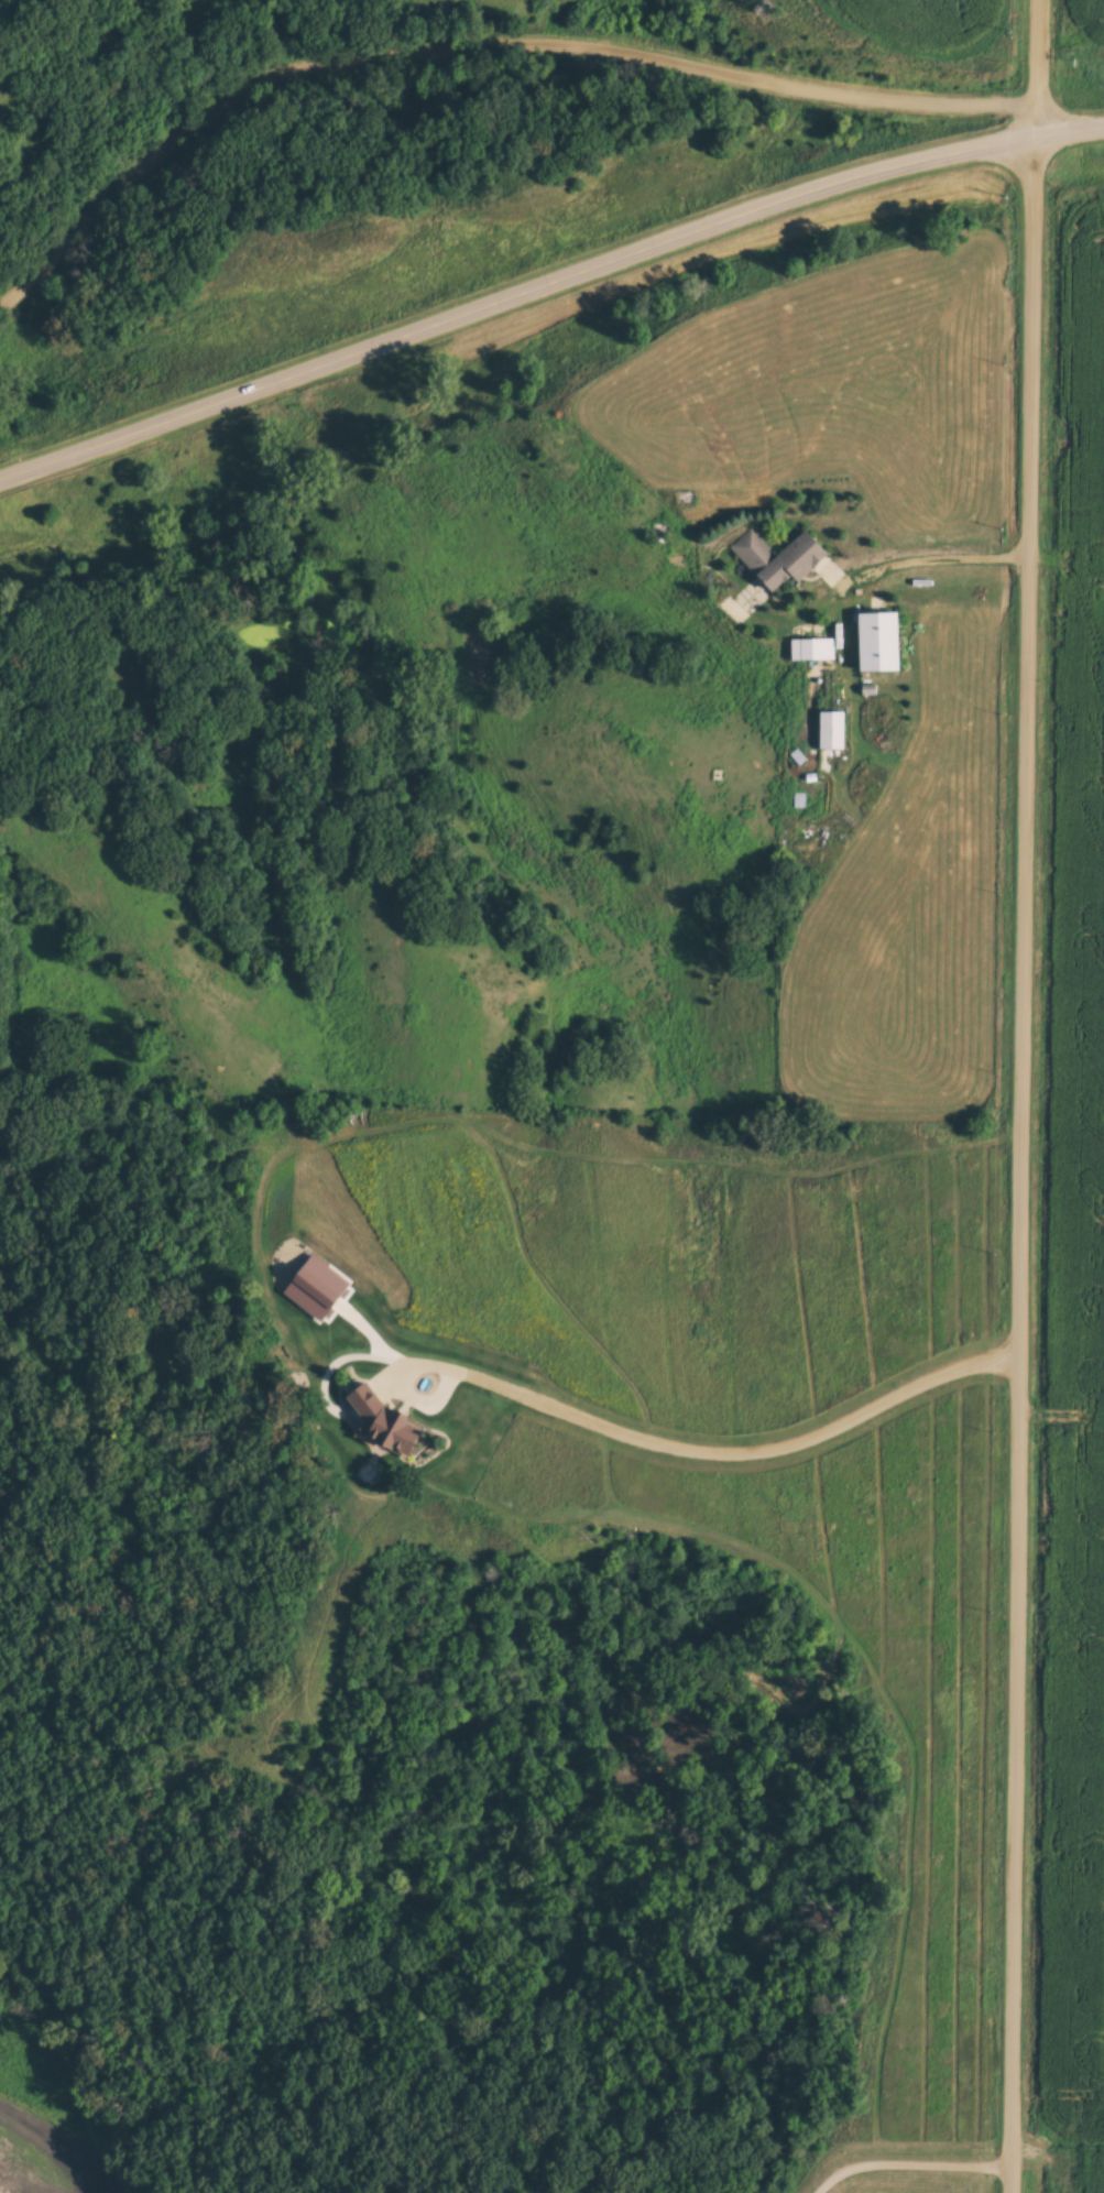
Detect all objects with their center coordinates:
road: (473, 44)
road: (1039, 66)
road: (546, 281)
building: (788, 560)
building: (882, 641)
building: (812, 648)
building: (833, 730)
road: (1023, 1164)
building: (391, 1423)
river: (47, 2127)

